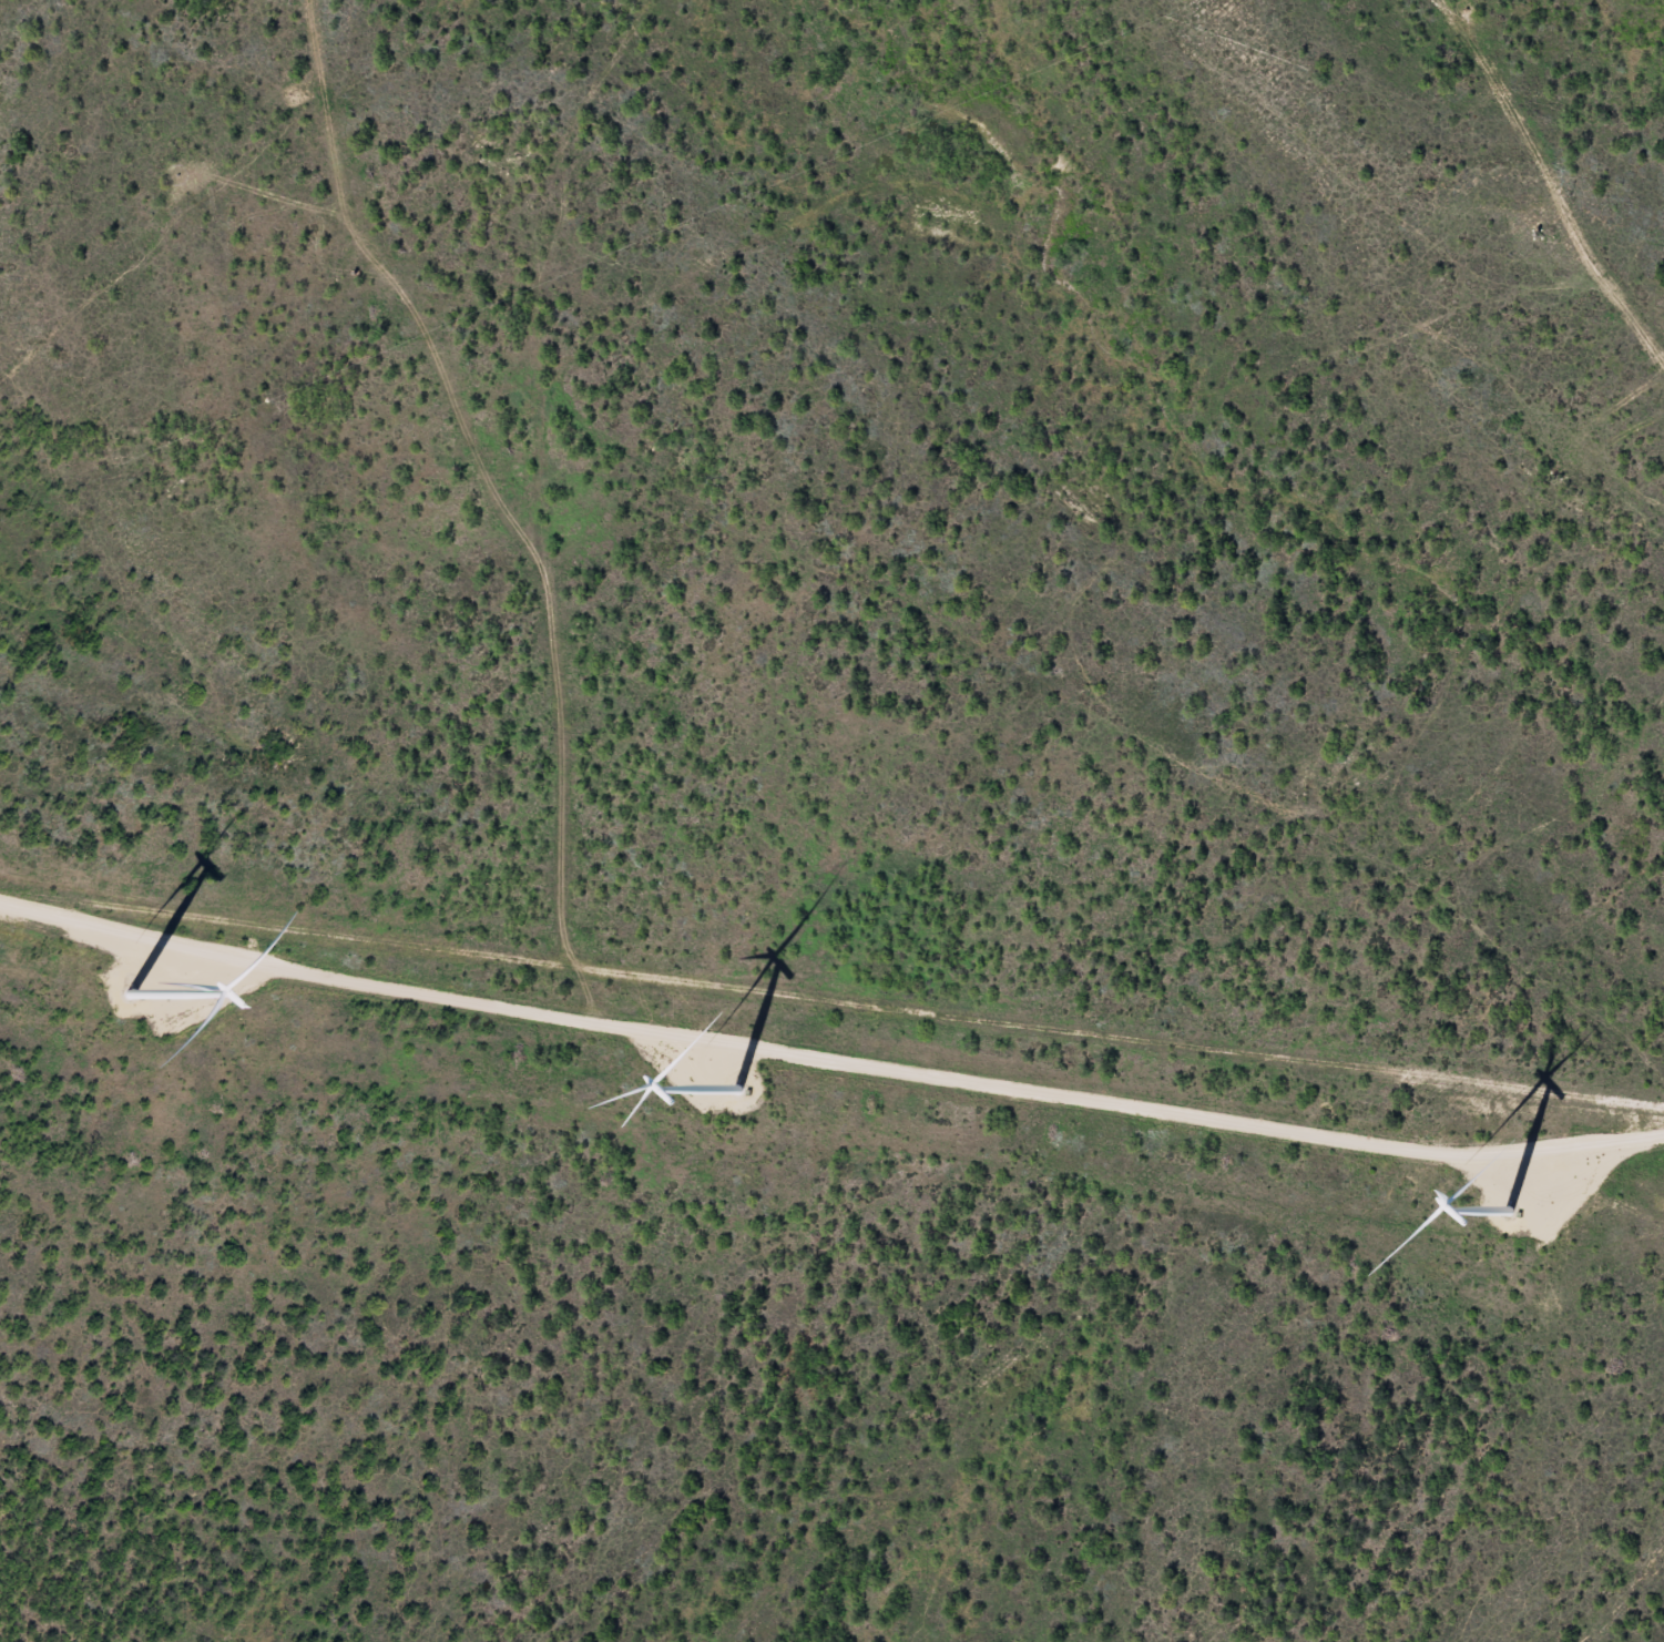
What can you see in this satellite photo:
road: (1553, 167)
wind turbine: (145, 997)
road: (831, 1002)
wind turbine: (726, 1097)
wind turbine: (1503, 1224)

